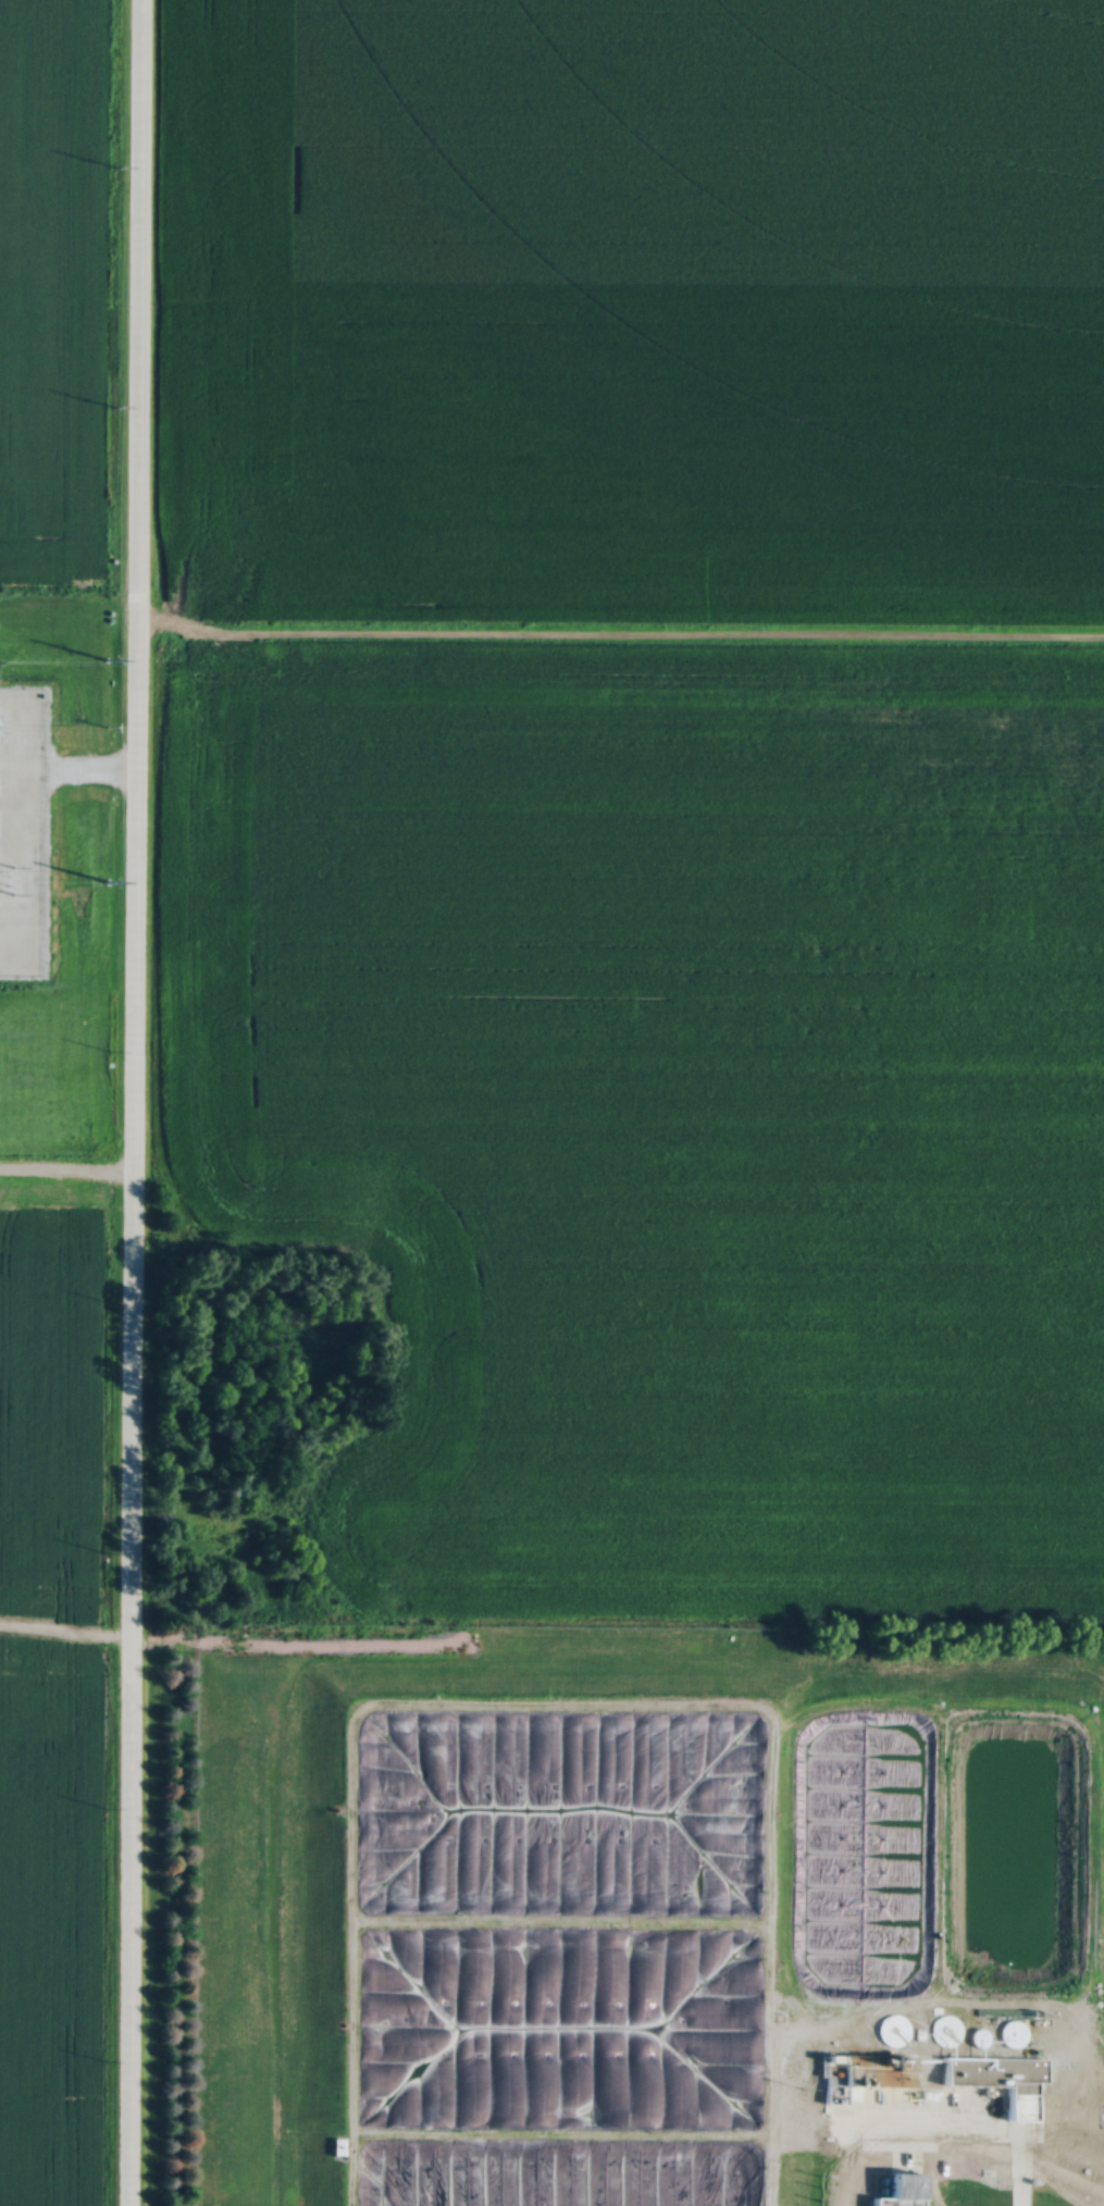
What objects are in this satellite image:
crop: (51, 289)
crop: (631, 314)
road: (86, 764)
power substation: (22, 828)
crop: (662, 1095)
road: (125, 1102)
road: (62, 1169)
road: (62, 1633)
road: (551, 1701)
crop: (48, 1709)
wastewater plant: (635, 1909)
building: (994, 2066)
road: (941, 2128)
building: (901, 2189)

